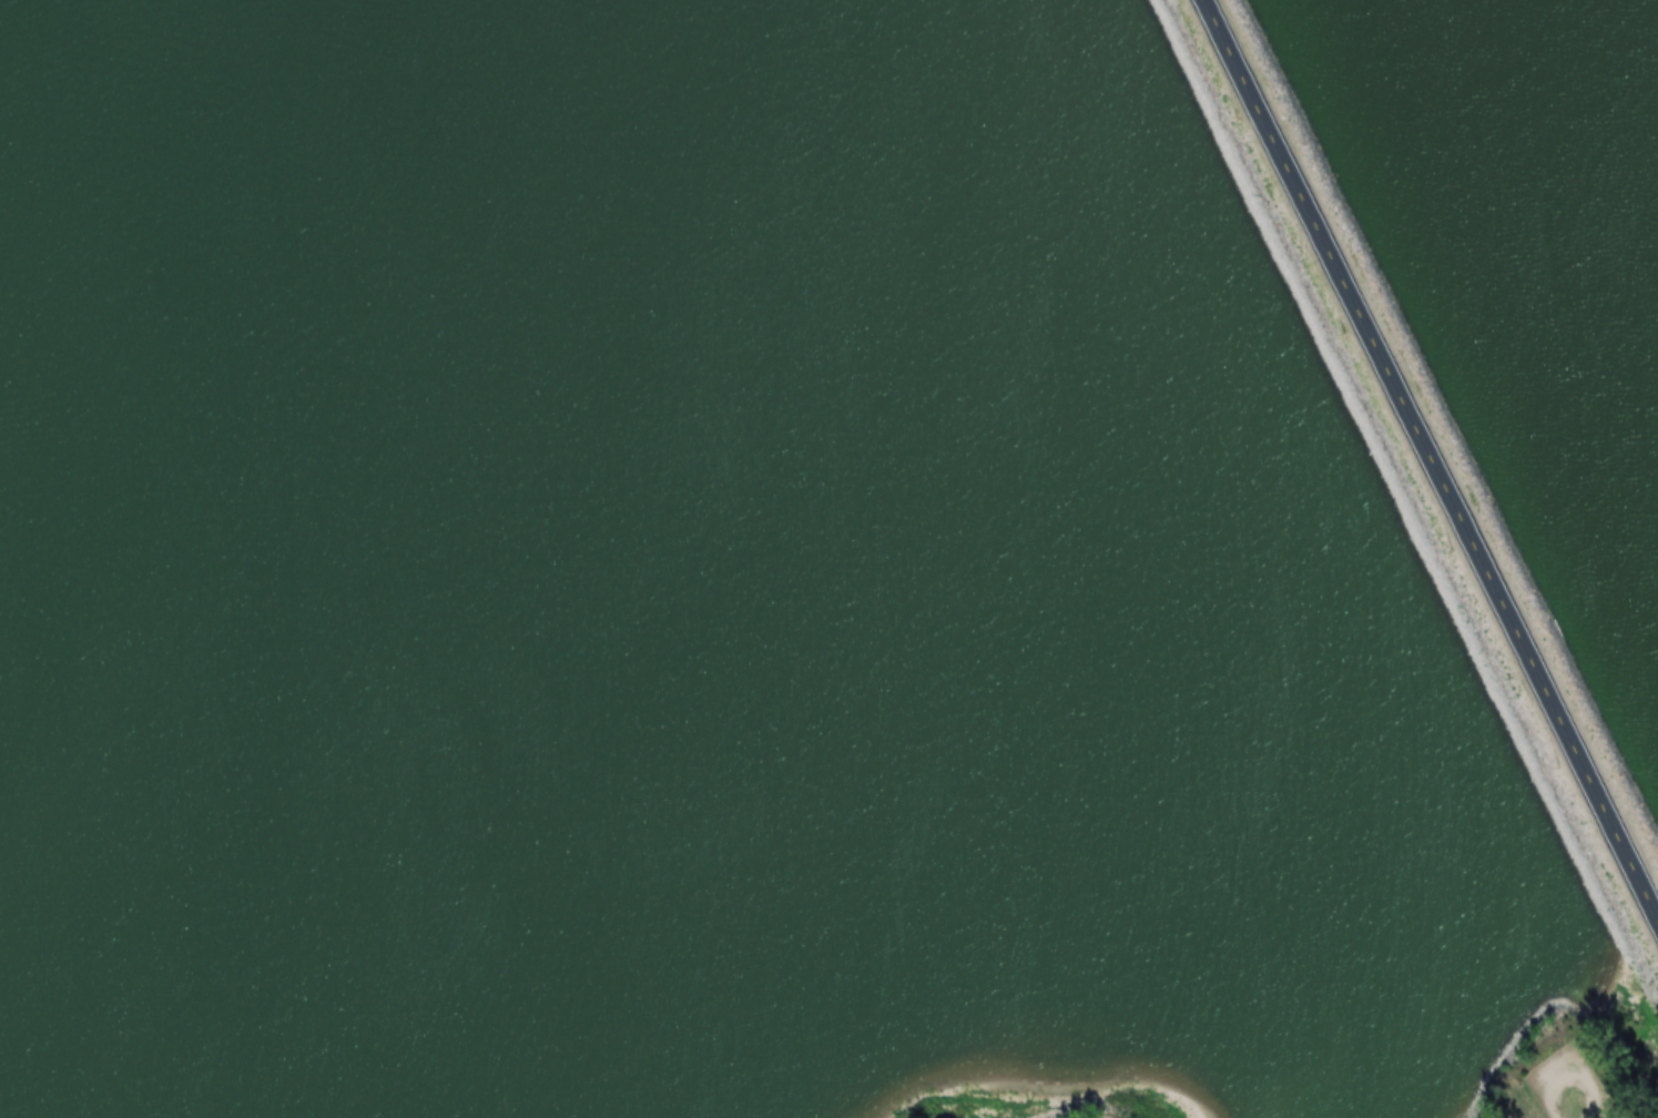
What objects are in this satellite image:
road: (1430, 457)

